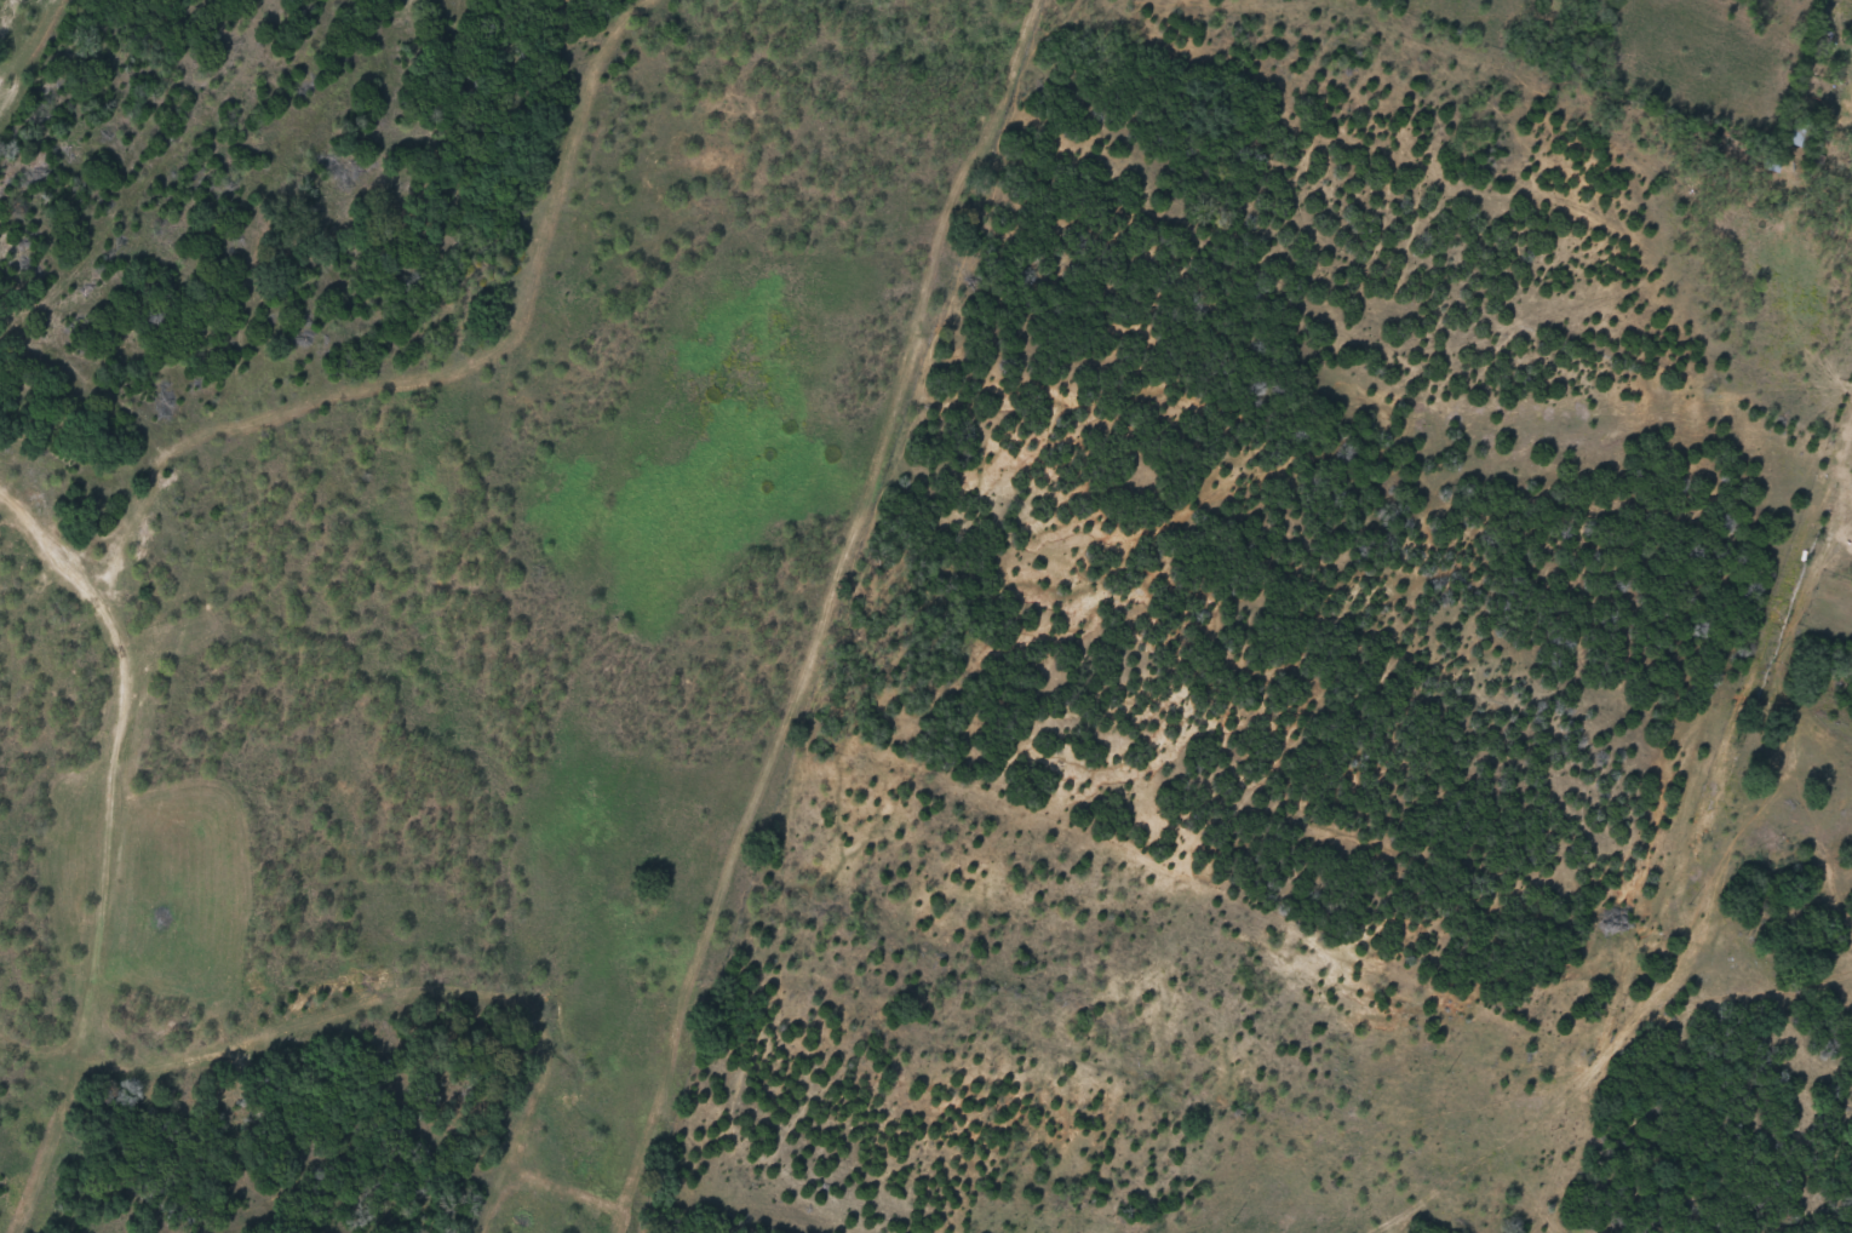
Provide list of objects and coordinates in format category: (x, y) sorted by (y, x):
building: (1819, 39)
building: (1800, 130)

